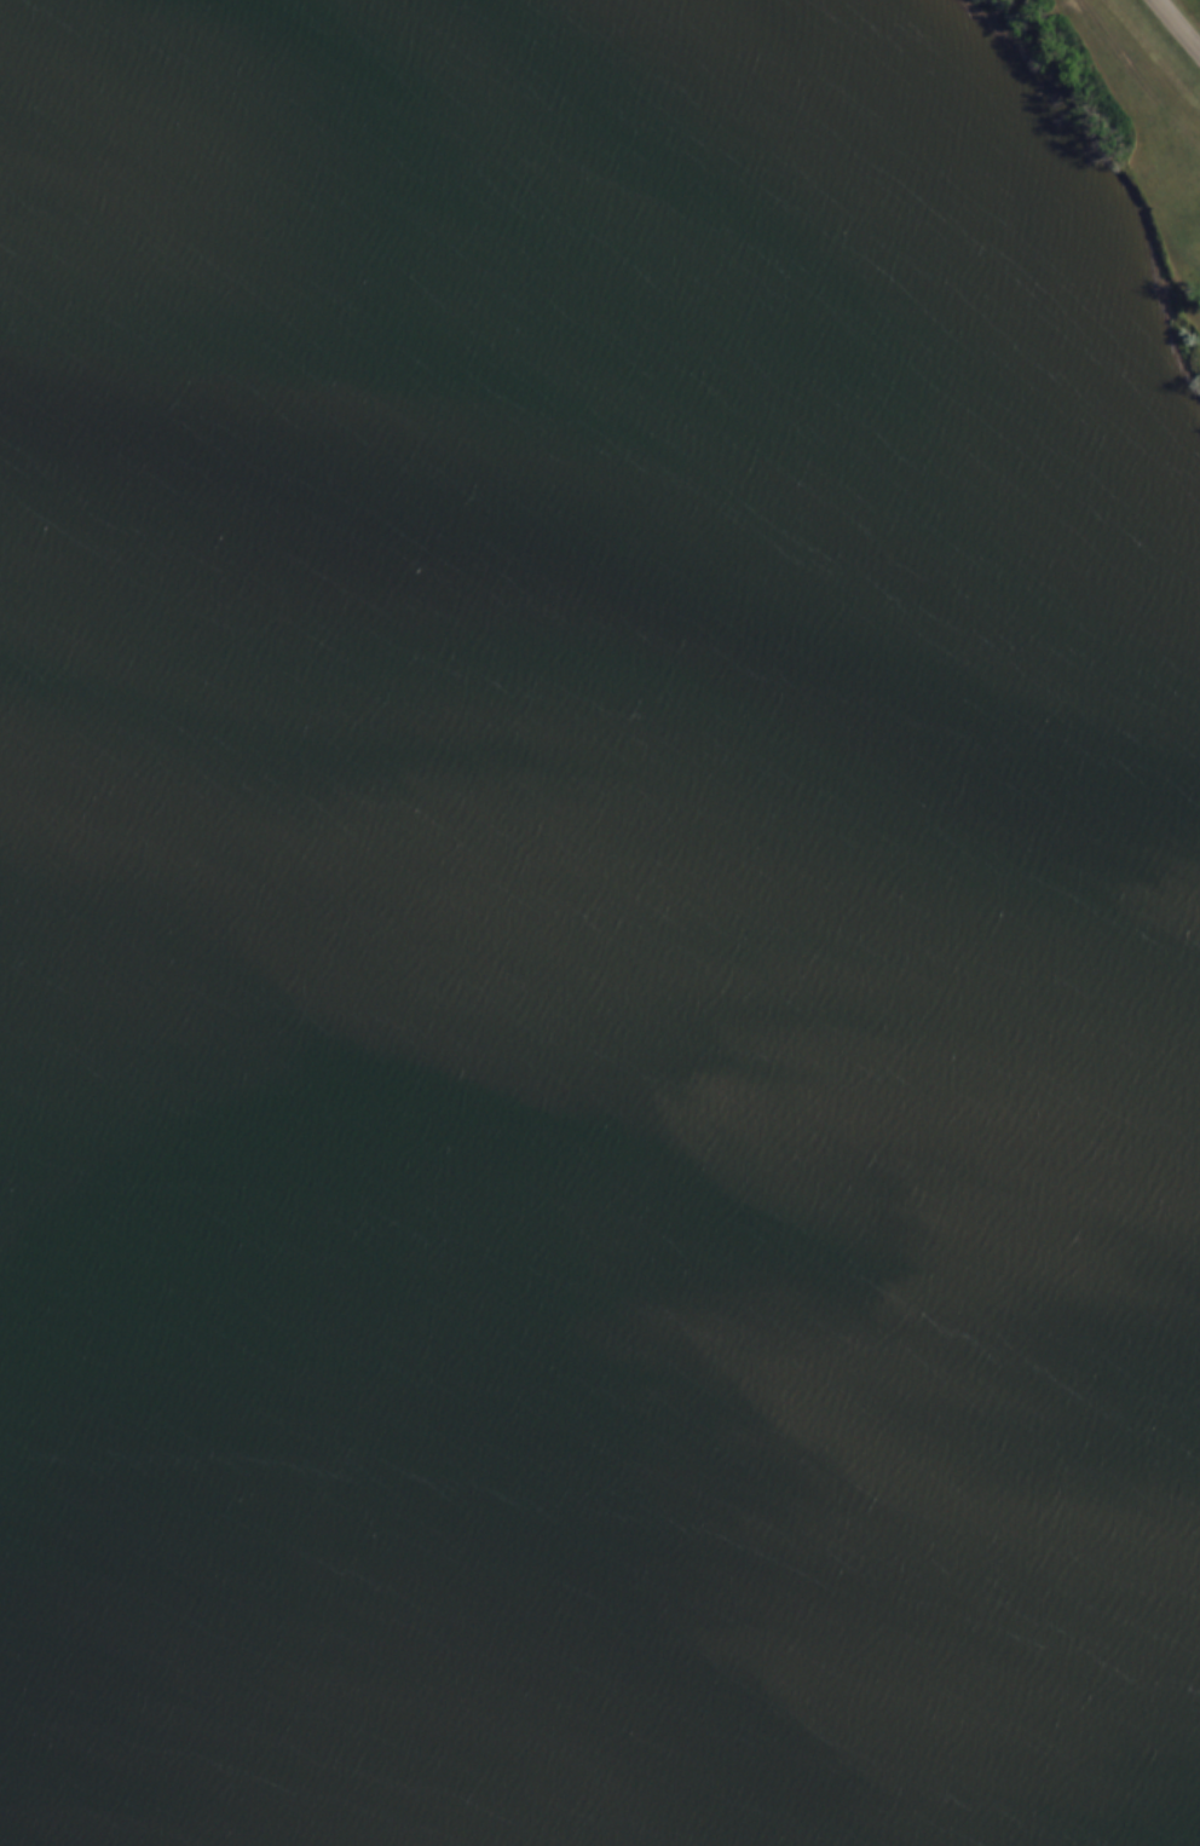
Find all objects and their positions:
road: (1179, 23)
river: (600, 1239)

